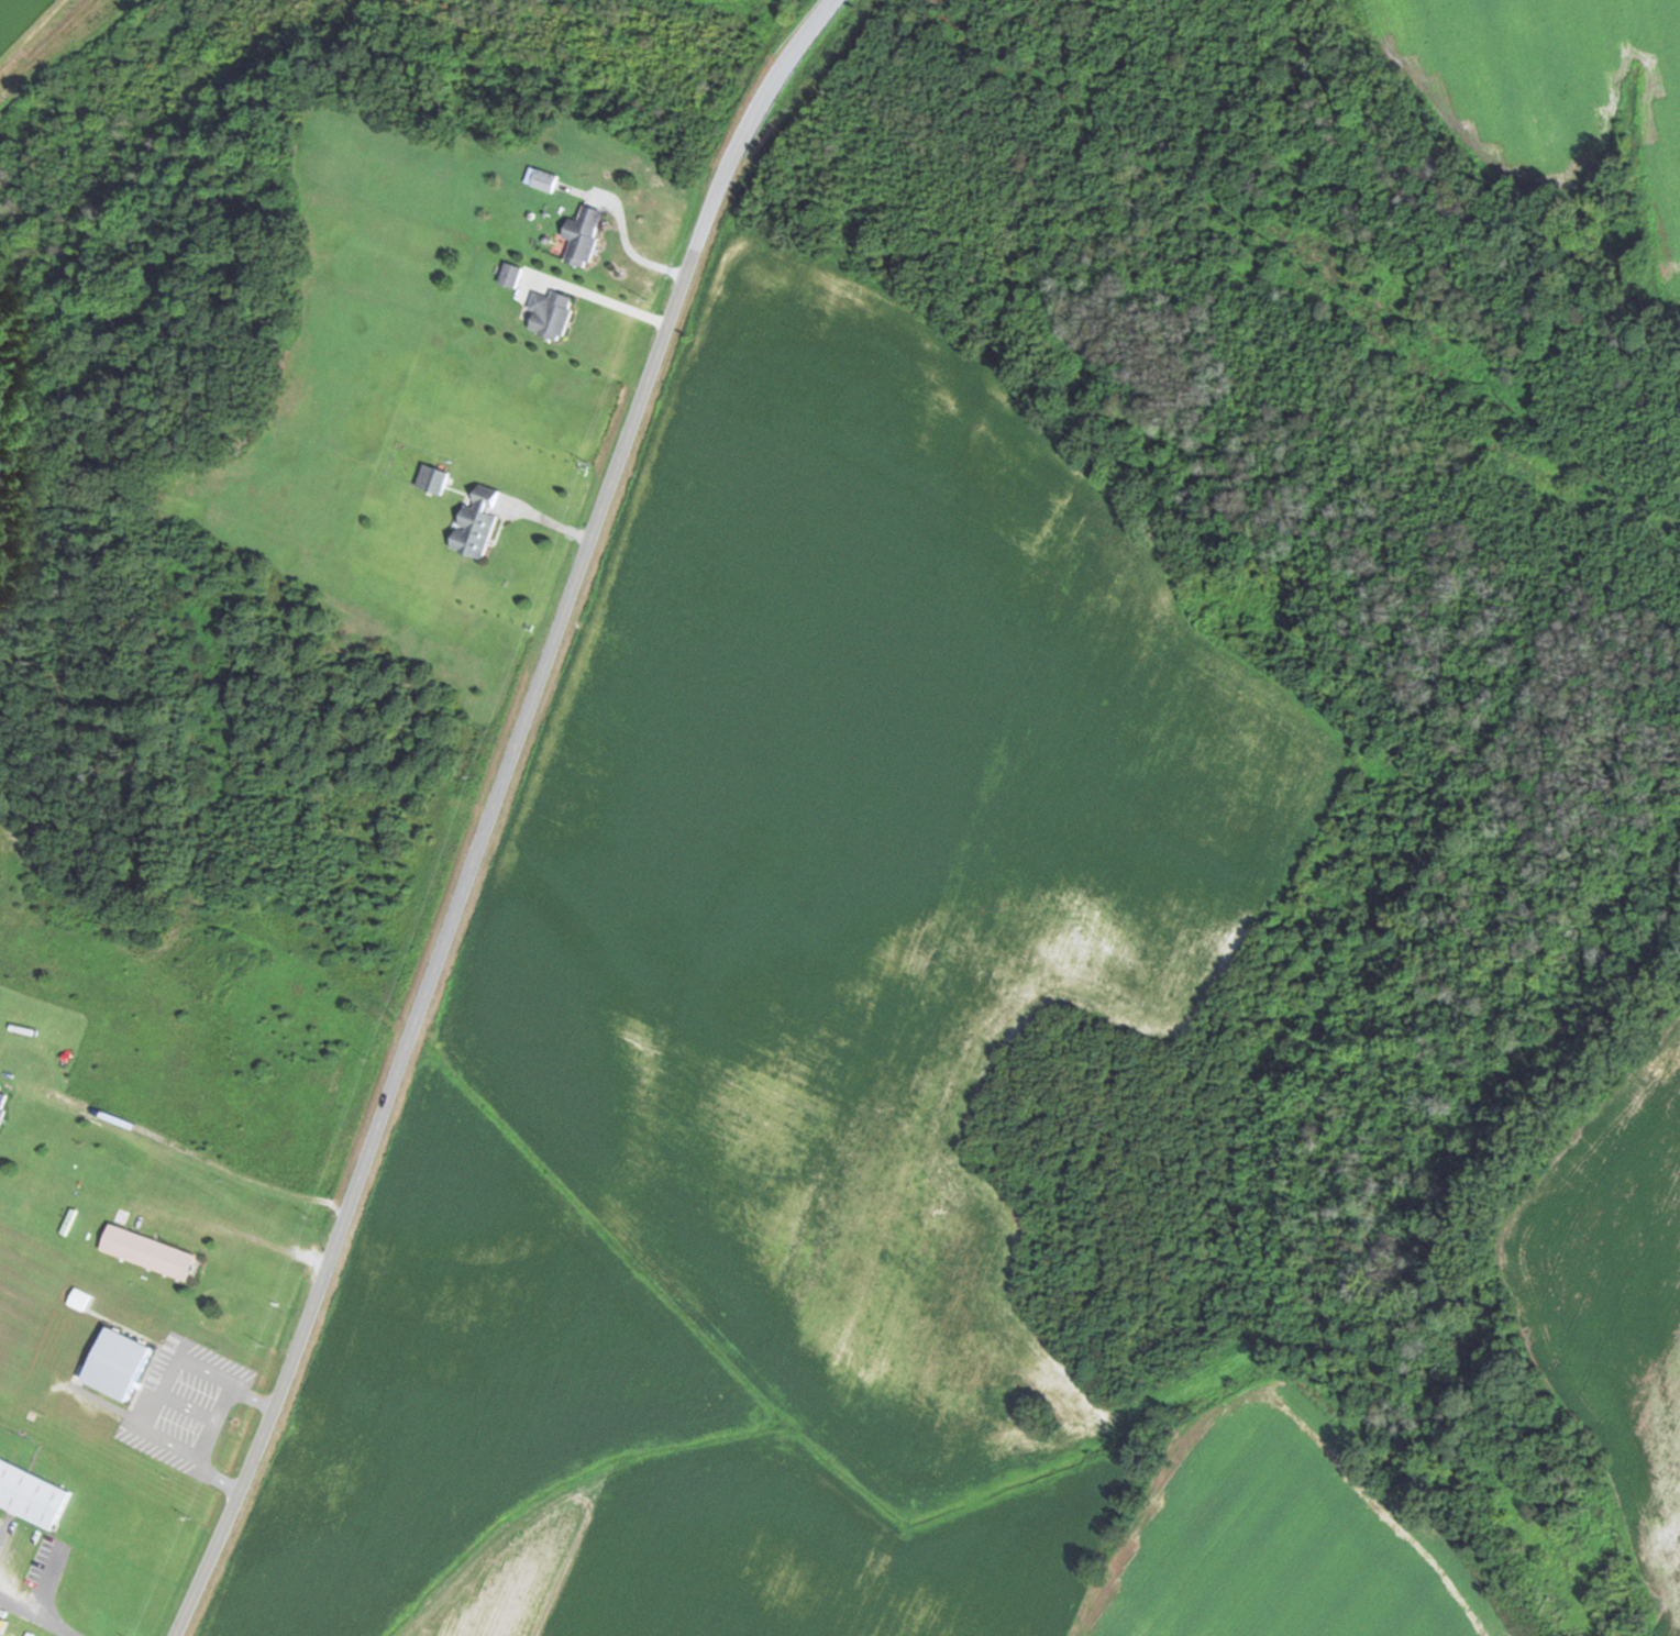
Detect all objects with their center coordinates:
wastewater plant: (22, 21)
building: (544, 179)
building: (584, 235)
building: (510, 274)
building: (551, 313)
building: (433, 478)
building: (477, 523)
road: (491, 811)
building: (2, 1103)
building: (151, 1251)
building: (80, 1298)
building: (119, 1363)
building: (32, 1493)

